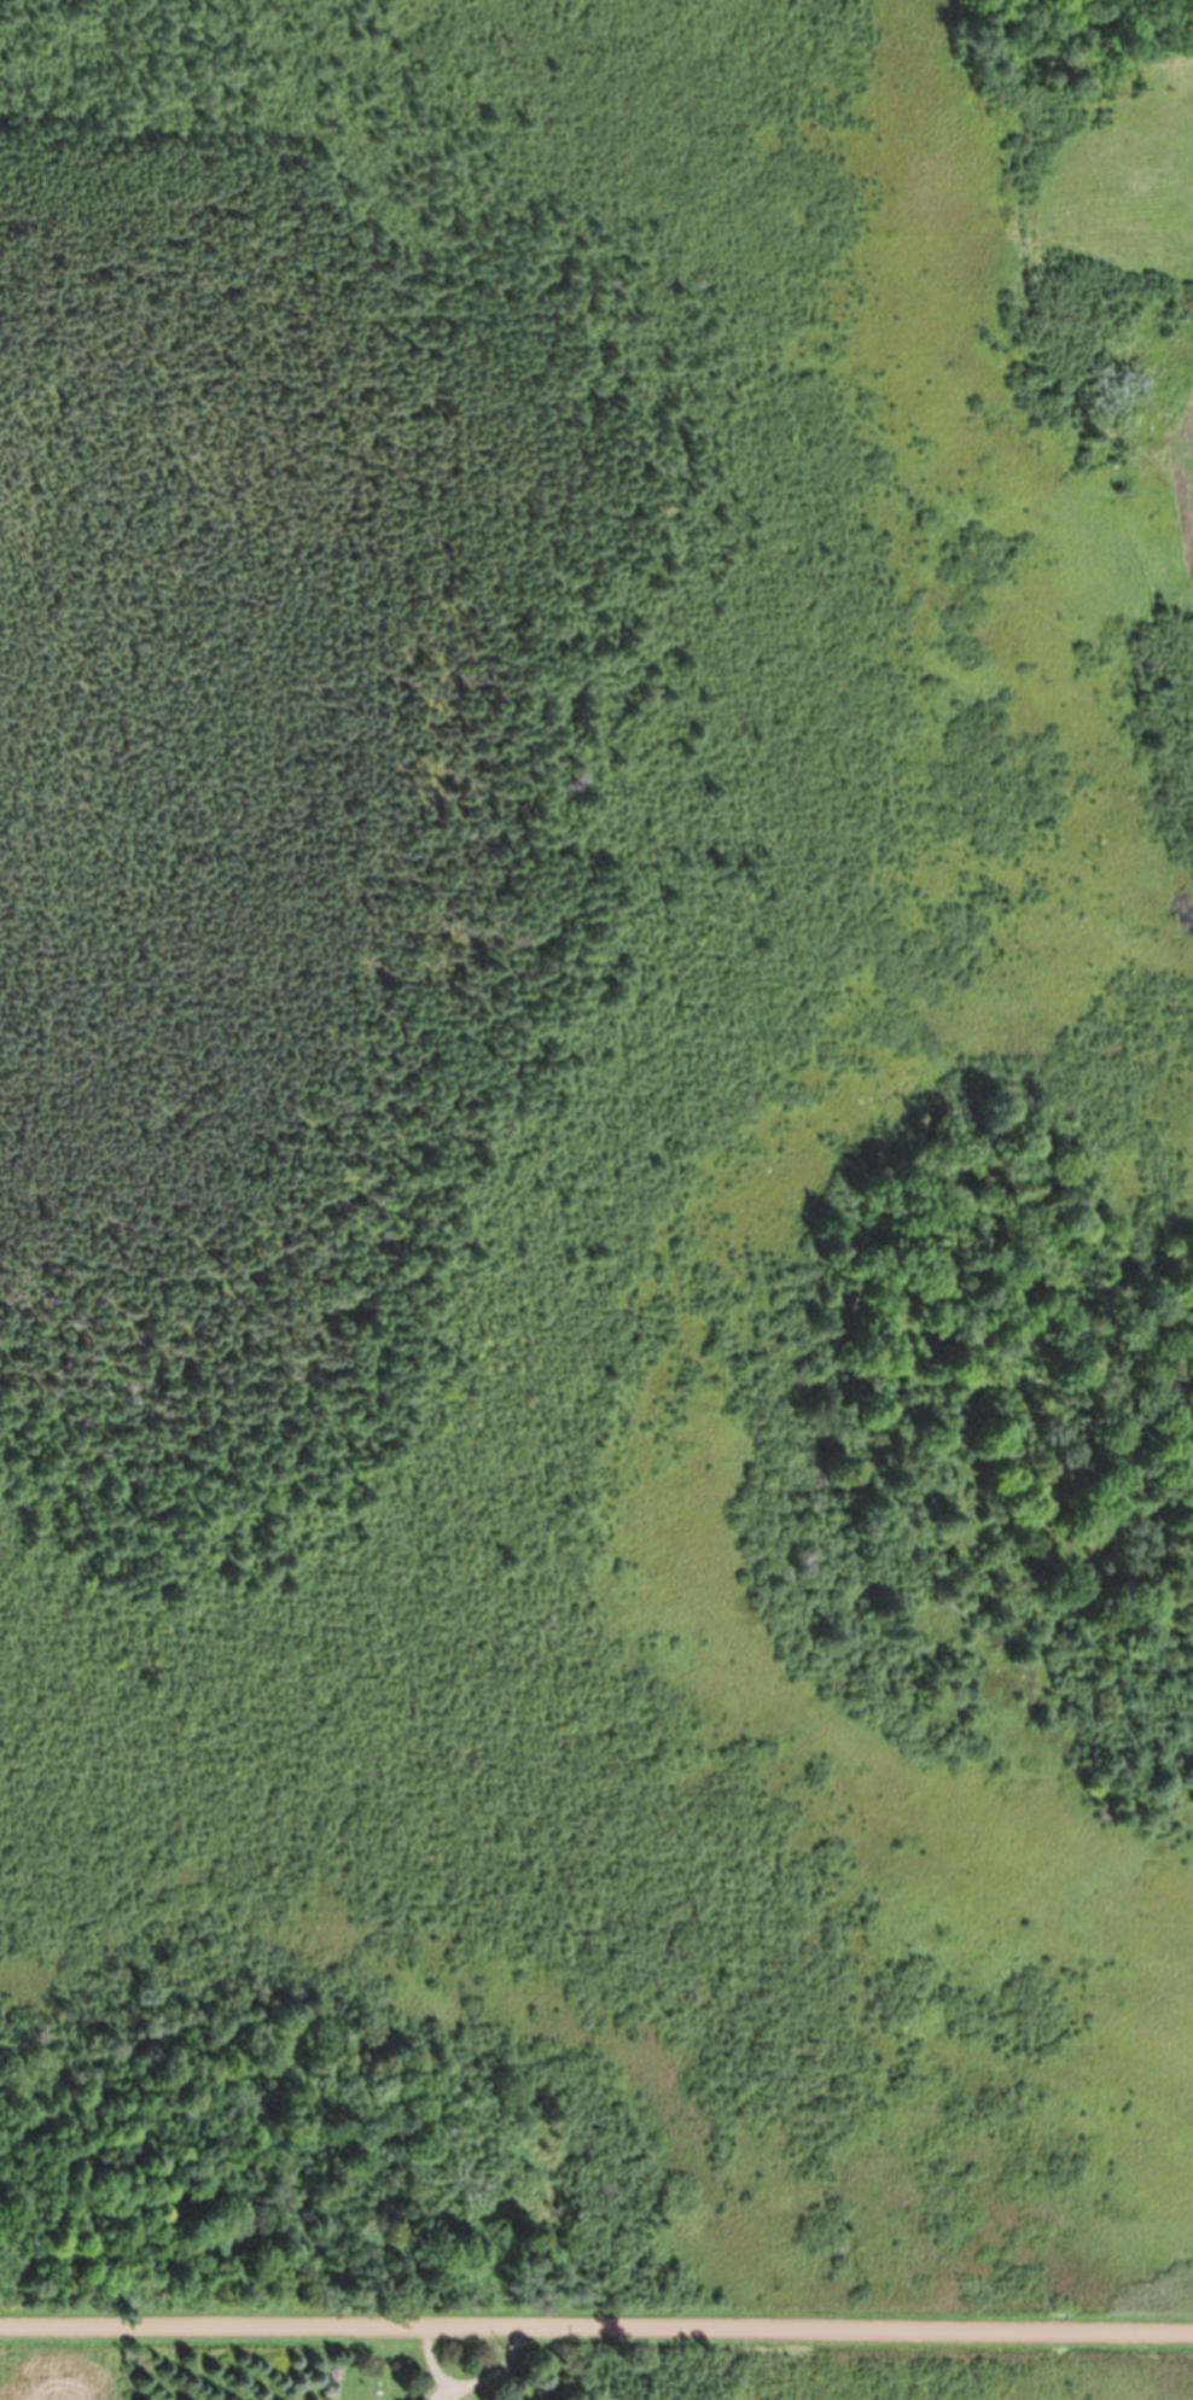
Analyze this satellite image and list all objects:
road: (596, 2325)
building: (426, 2398)

